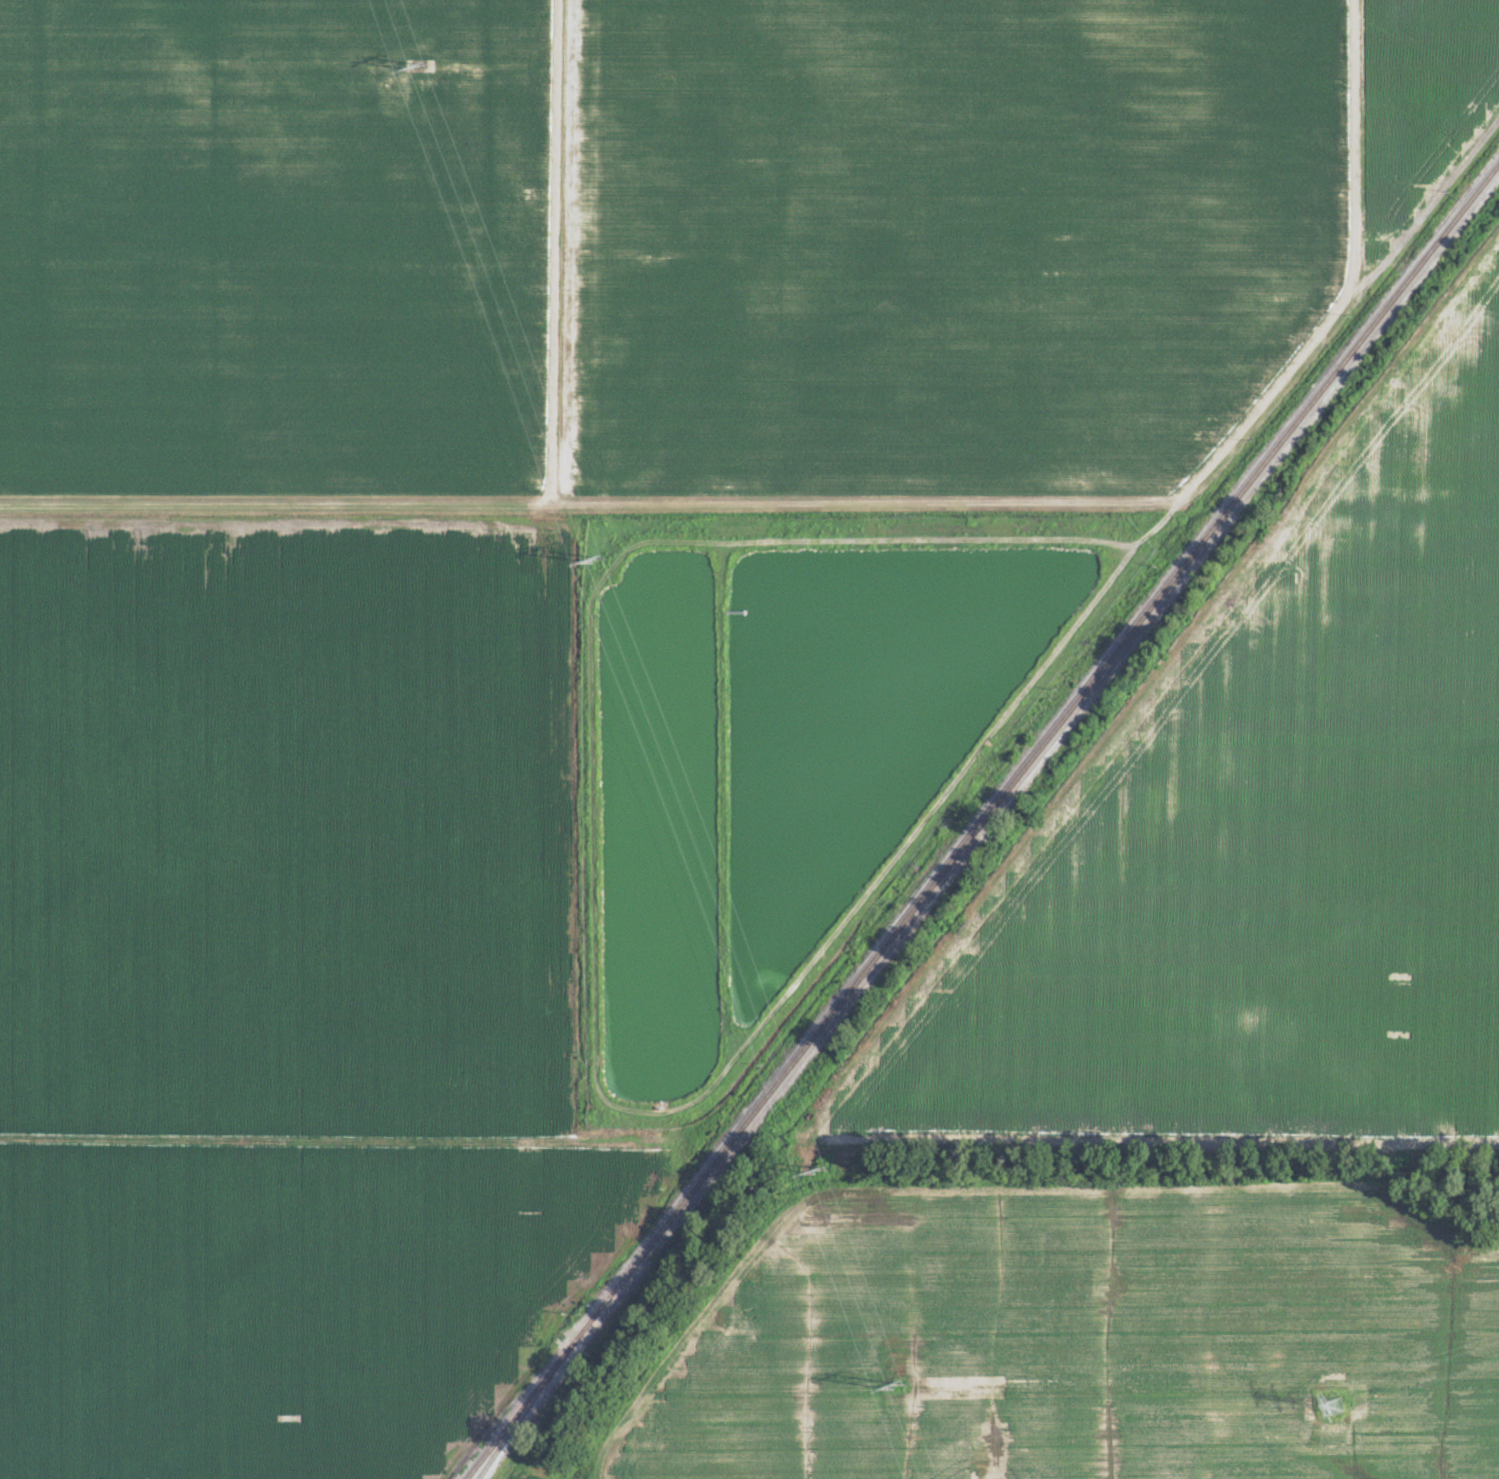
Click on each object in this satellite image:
power tower: (419, 64)
power tower: (601, 556)
railway: (981, 820)
power tower: (824, 1168)
power tower: (903, 1384)
power tower: (1338, 1406)
railway: (508, 1431)
crop: (526, 1470)

